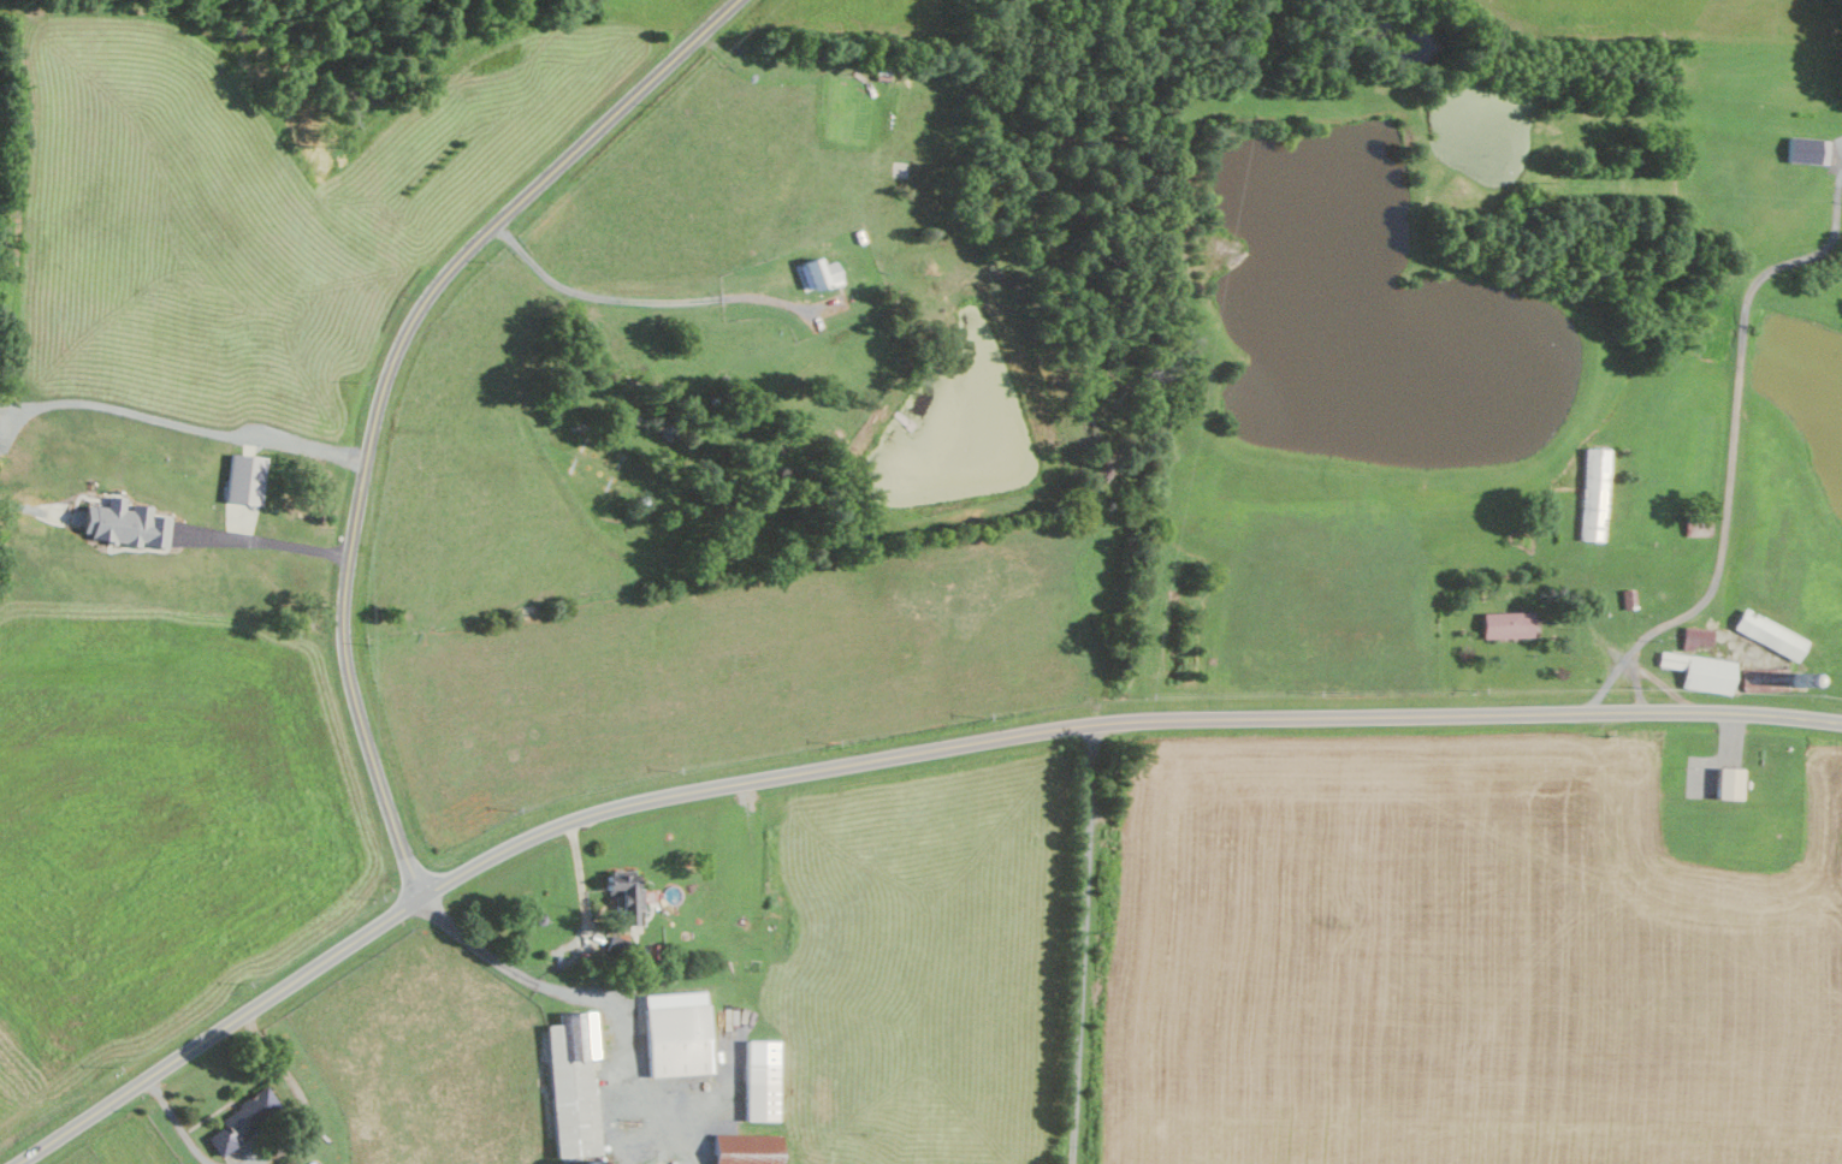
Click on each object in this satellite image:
building: (1810, 149)
building: (819, 273)
road: (642, 299)
road: (386, 384)
road: (176, 423)
road: (1730, 450)
building: (248, 475)
building: (1597, 493)
road: (20, 506)
building: (129, 524)
road: (265, 541)
building: (1510, 624)
building: (1773, 634)
building: (1705, 671)
road: (1663, 684)
road: (1635, 685)
road: (879, 760)
building: (1734, 783)
building: (632, 896)
road: (1084, 944)
road: (585, 1002)
building: (681, 1033)
building: (764, 1079)
building: (578, 1088)
building: (244, 1121)
building: (751, 1148)

